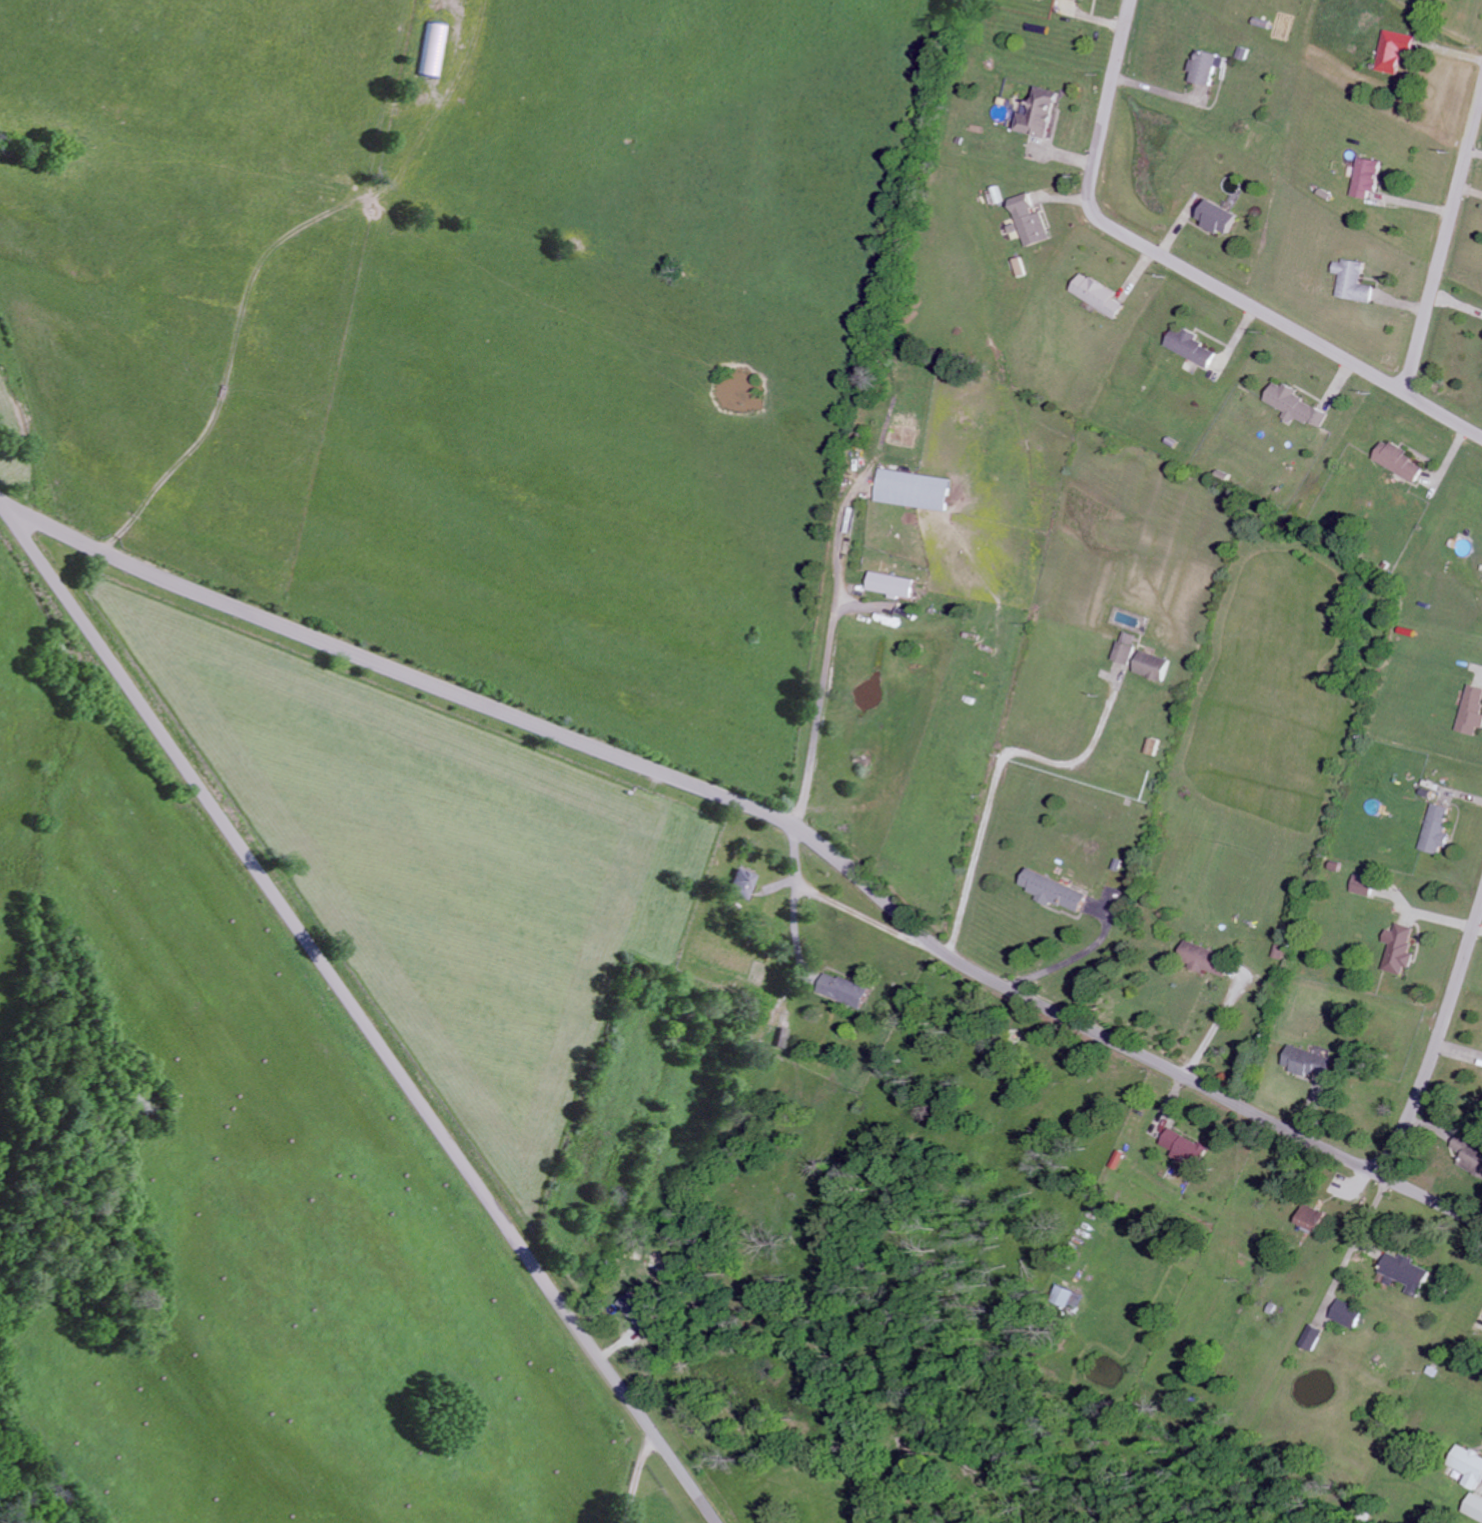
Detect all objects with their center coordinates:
building: (1081, 0)
building: (432, 50)
building: (1395, 51)
building: (1206, 68)
building: (1039, 113)
building: (1367, 178)
road: (1470, 190)
building: (1219, 218)
building: (1030, 221)
road: (1443, 242)
road: (1192, 272)
building: (1353, 282)
building: (1098, 295)
building: (1191, 347)
building: (1295, 406)
building: (1399, 462)
building: (913, 490)
road: (14, 521)
building: (891, 585)
building: (1125, 647)
road: (825, 661)
building: (1152, 665)
building: (1472, 710)
building: (1151, 746)
road: (993, 766)
road: (769, 814)
building: (1437, 829)
building: (742, 883)
building: (1363, 885)
building: (1053, 891)
building: (1399, 948)
road: (1073, 959)
building: (1204, 959)
building: (845, 990)
road: (1211, 1028)
road: (373, 1031)
road: (1438, 1039)
building: (1311, 1062)
building: (1186, 1148)
building: (1470, 1153)
building: (1313, 1218)
building: (1408, 1272)
building: (1064, 1295)
building: (636, 1310)
building: (1348, 1314)
building: (1311, 1337)
building: (1469, 1466)
road: (641, 1478)
building: (1475, 1507)

